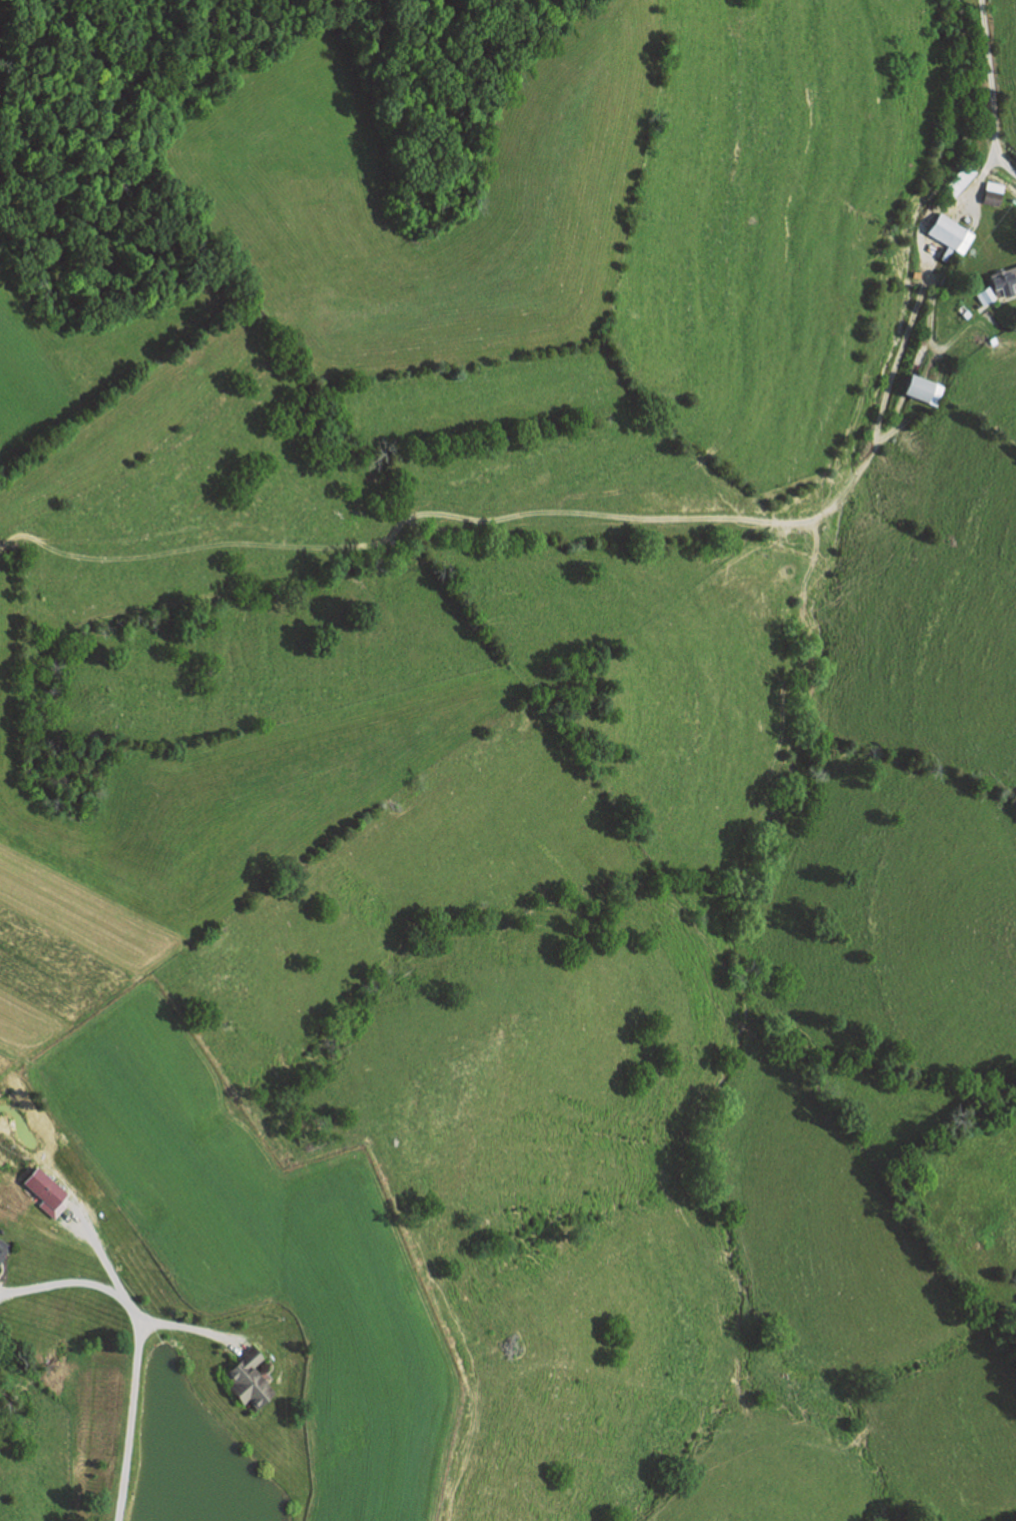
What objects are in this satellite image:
road: (992, 90)
road: (981, 179)
building: (960, 181)
building: (995, 193)
building: (951, 235)
building: (1004, 285)
building: (985, 296)
building: (924, 391)
road: (586, 510)
crop: (54, 969)
crop: (3, 1062)
building: (45, 1190)
building: (3, 1246)
road: (98, 1249)
road: (75, 1282)
road: (192, 1327)
building: (247, 1379)
road: (128, 1420)

